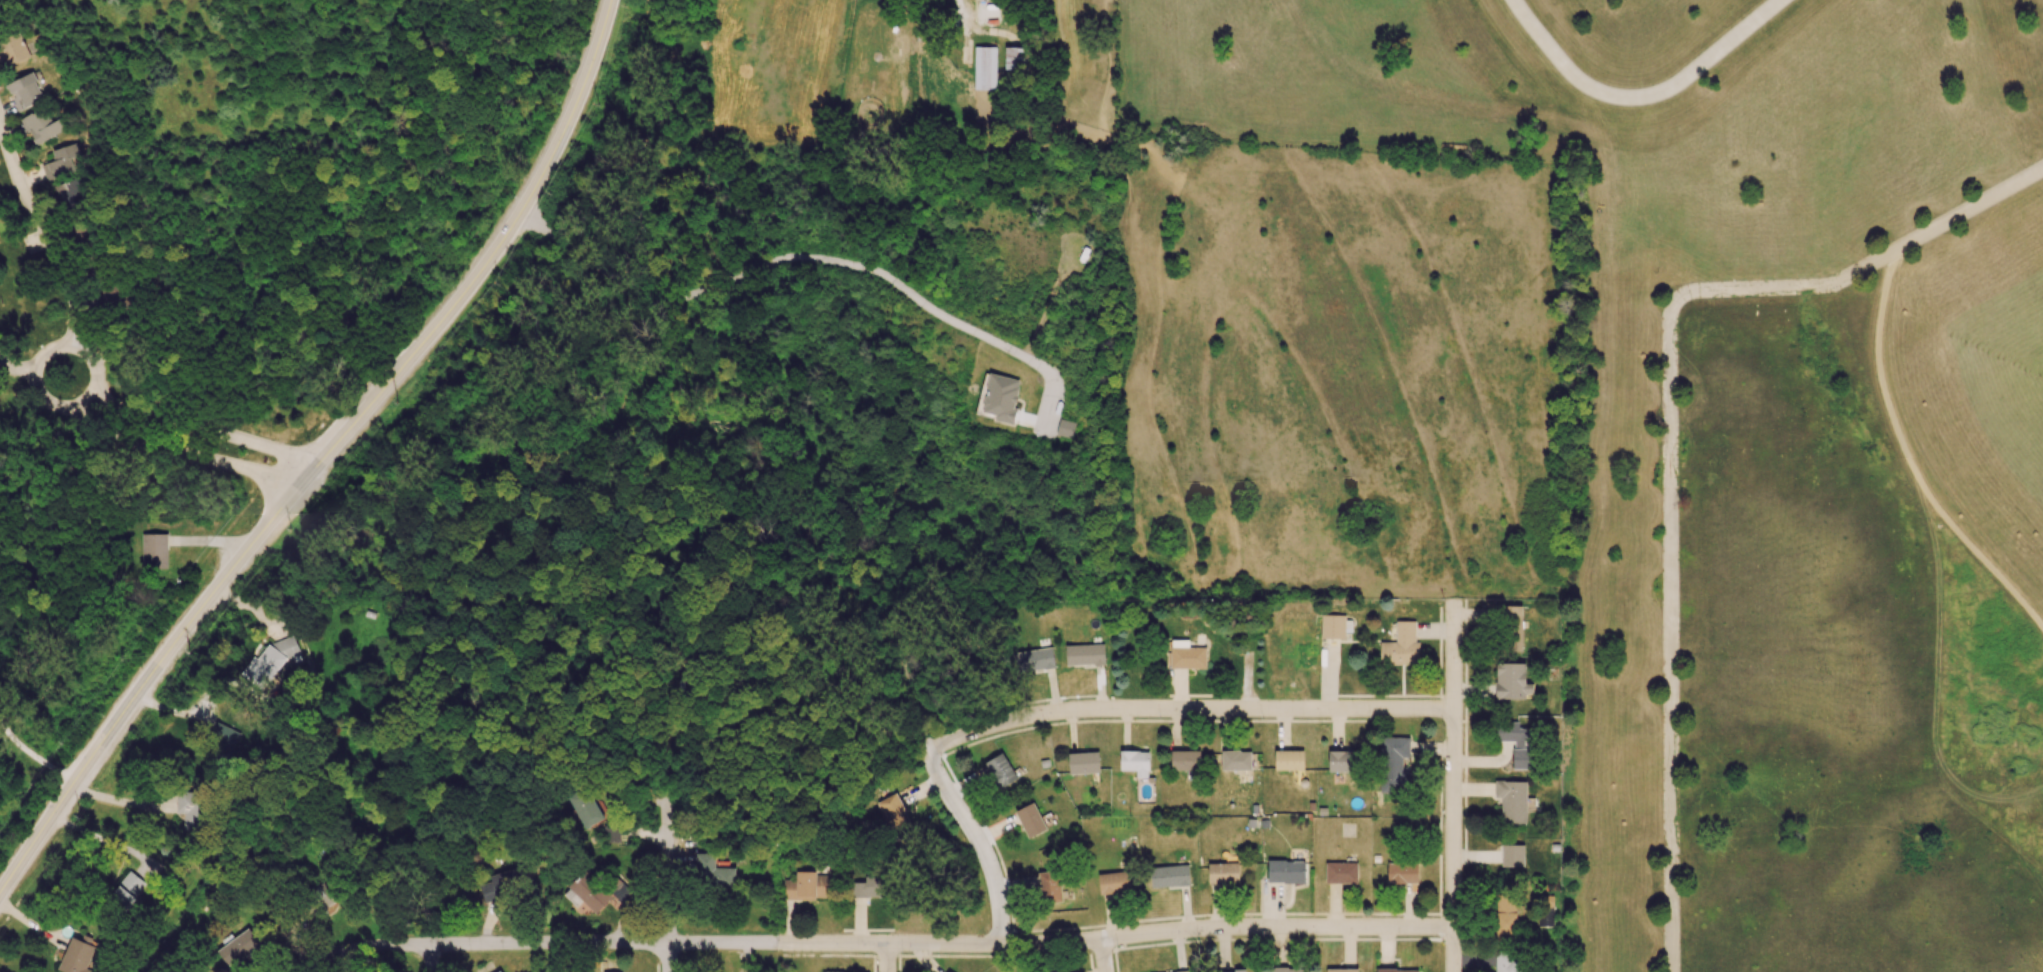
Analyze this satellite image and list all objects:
building: (982, 11)
building: (12, 51)
building: (1014, 58)
building: (984, 68)
building: (23, 91)
road: (1637, 94)
building: (42, 125)
building: (60, 162)
building: (68, 193)
road: (51, 249)
road: (793, 256)
building: (112, 297)
road: (33, 371)
building: (1001, 398)
road: (191, 417)
building: (1064, 428)
park: (1749, 432)
road: (1670, 435)
road: (170, 445)
road: (322, 454)
building: (153, 551)
building: (1333, 626)
building: (1513, 628)
building: (1401, 646)
building: (1084, 654)
building: (1186, 655)
building: (1034, 660)
building: (269, 663)
building: (1511, 681)
road: (1186, 708)
building: (224, 737)
building: (1517, 743)
road: (34, 755)
building: (1185, 760)
building: (1236, 760)
building: (1289, 760)
building: (1342, 761)
building: (1083, 762)
building: (1135, 762)
building: (1394, 764)
building: (997, 771)
road: (1453, 787)
road: (948, 793)
building: (1512, 800)
road: (122, 802)
building: (585, 808)
building: (192, 810)
building: (894, 814)
building: (1030, 820)
road: (670, 822)
building: (611, 834)
building: (1512, 856)
building: (1285, 871)
building: (1341, 872)
building: (712, 873)
building: (1223, 873)
building: (1402, 873)
building: (1169, 876)
building: (1113, 883)
building: (502, 884)
building: (808, 886)
building: (1050, 886)
building: (871, 887)
building: (128, 888)
building: (593, 892)
building: (1546, 914)
building: (1505, 915)
road: (878, 943)
building: (238, 947)
road: (1103, 955)
road: (668, 957)
road: (430, 958)
road: (886, 958)
building: (1508, 962)
building: (1286, 970)
building: (1342, 970)
building: (1396, 970)
building: (499, 971)
building: (1182, 971)
building: (1231, 971)

